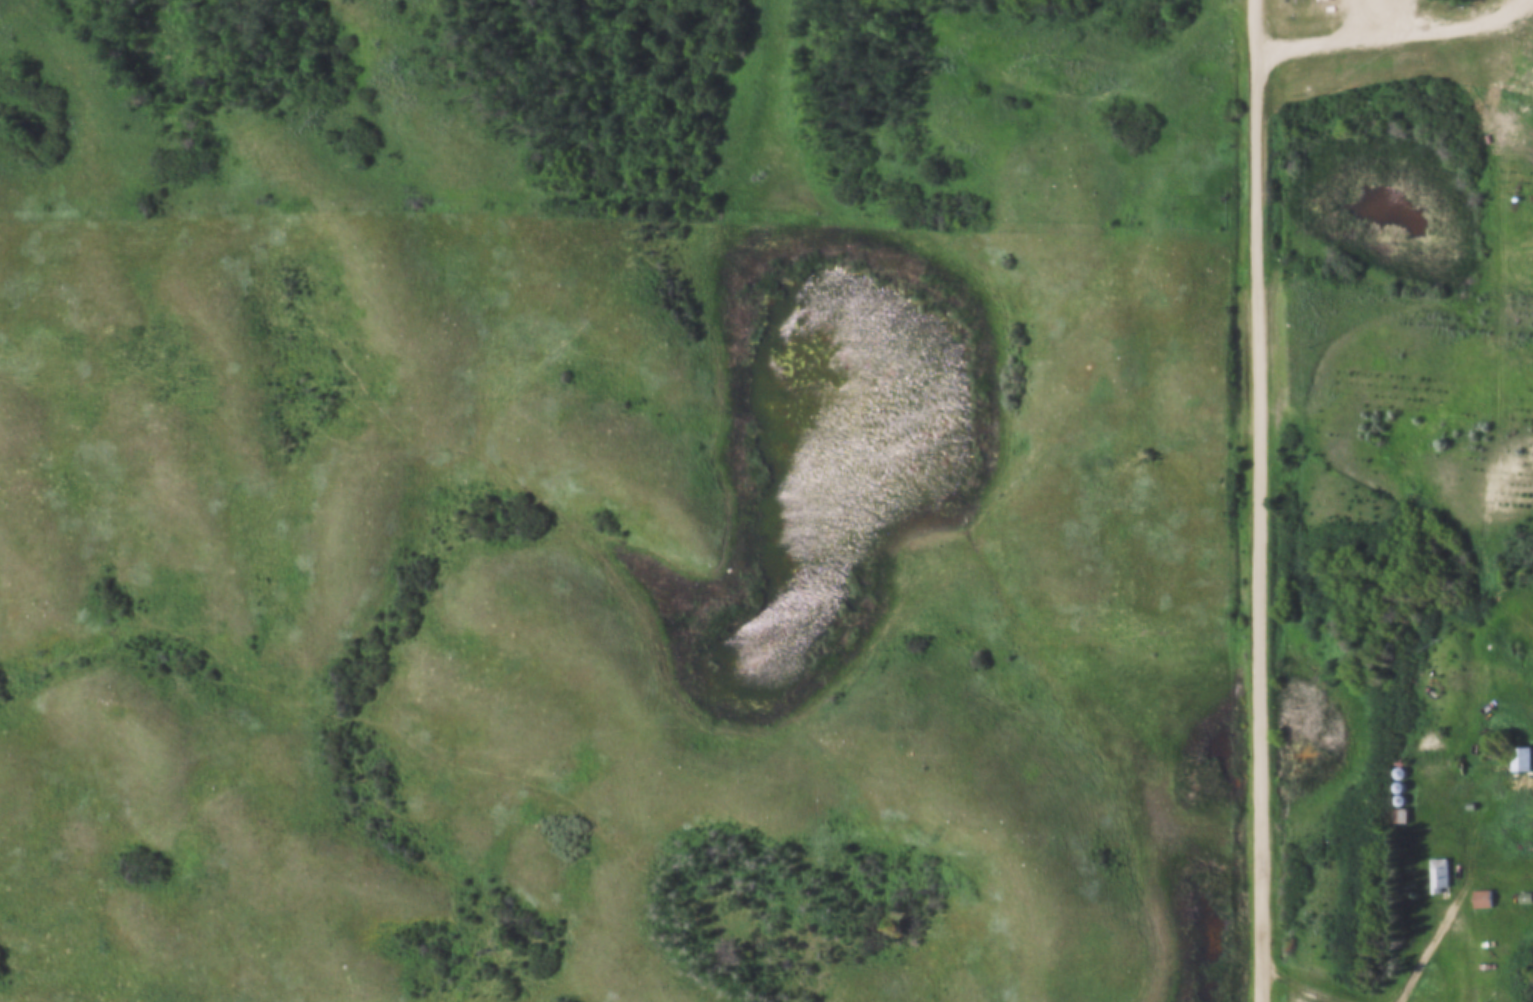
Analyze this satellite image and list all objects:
road: (1263, 500)
building: (1522, 758)
building: (1441, 878)
building: (1484, 900)
road: (1426, 946)

